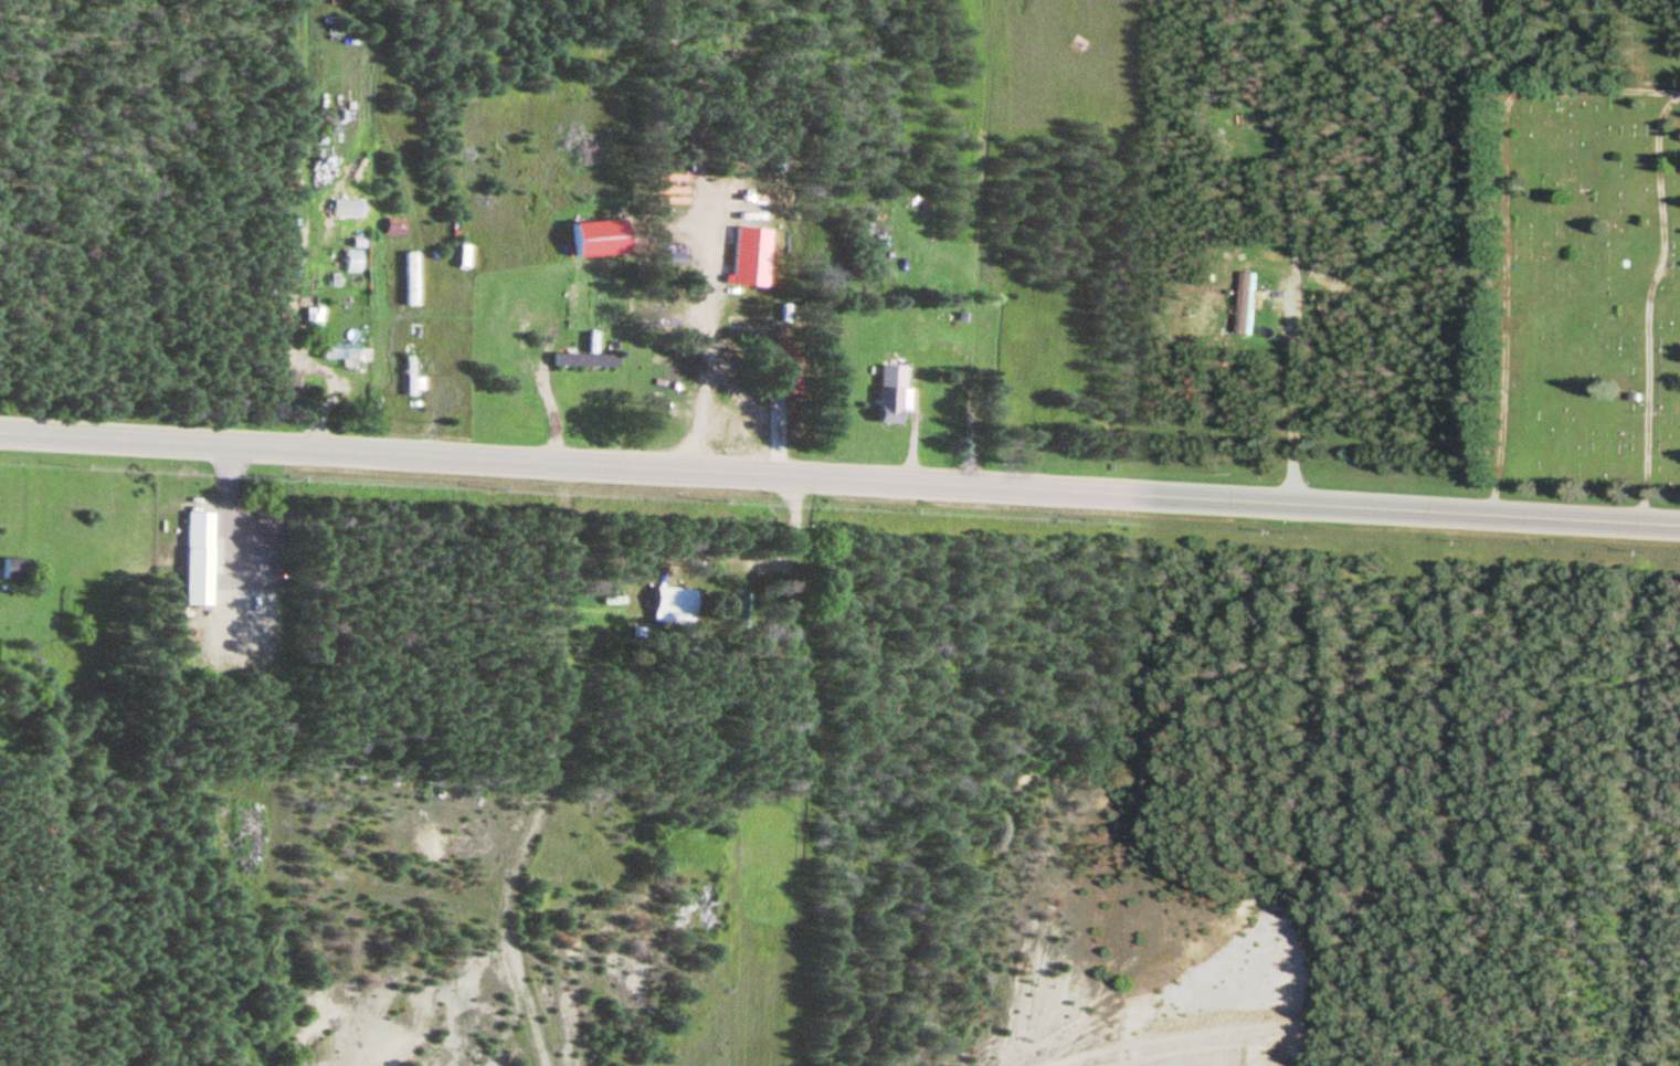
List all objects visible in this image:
road: (324, 86)
building: (1282, 141)
building: (679, 163)
road: (317, 197)
building: (340, 209)
road: (1504, 220)
building: (388, 230)
building: (352, 233)
building: (588, 233)
road: (1283, 234)
road: (1044, 244)
building: (738, 255)
building: (666, 257)
building: (346, 258)
road: (1670, 262)
building: (400, 279)
park: (1579, 284)
building: (1203, 288)
road: (1269, 300)
building: (1241, 303)
road: (1647, 304)
building: (955, 316)
building: (307, 317)
building: (441, 318)
road: (701, 320)
road: (282, 331)
building: (337, 350)
building: (574, 360)
building: (774, 367)
building: (402, 377)
building: (881, 392)
building: (1635, 394)
road: (537, 402)
road: (1283, 403)
road: (424, 418)
road: (961, 426)
road: (908, 431)
road: (769, 439)
road: (839, 481)
road: (221, 525)
road: (788, 536)
parking lot: (245, 542)
building: (190, 558)
building: (12, 567)
building: (669, 602)
building: (737, 602)
road: (546, 770)

